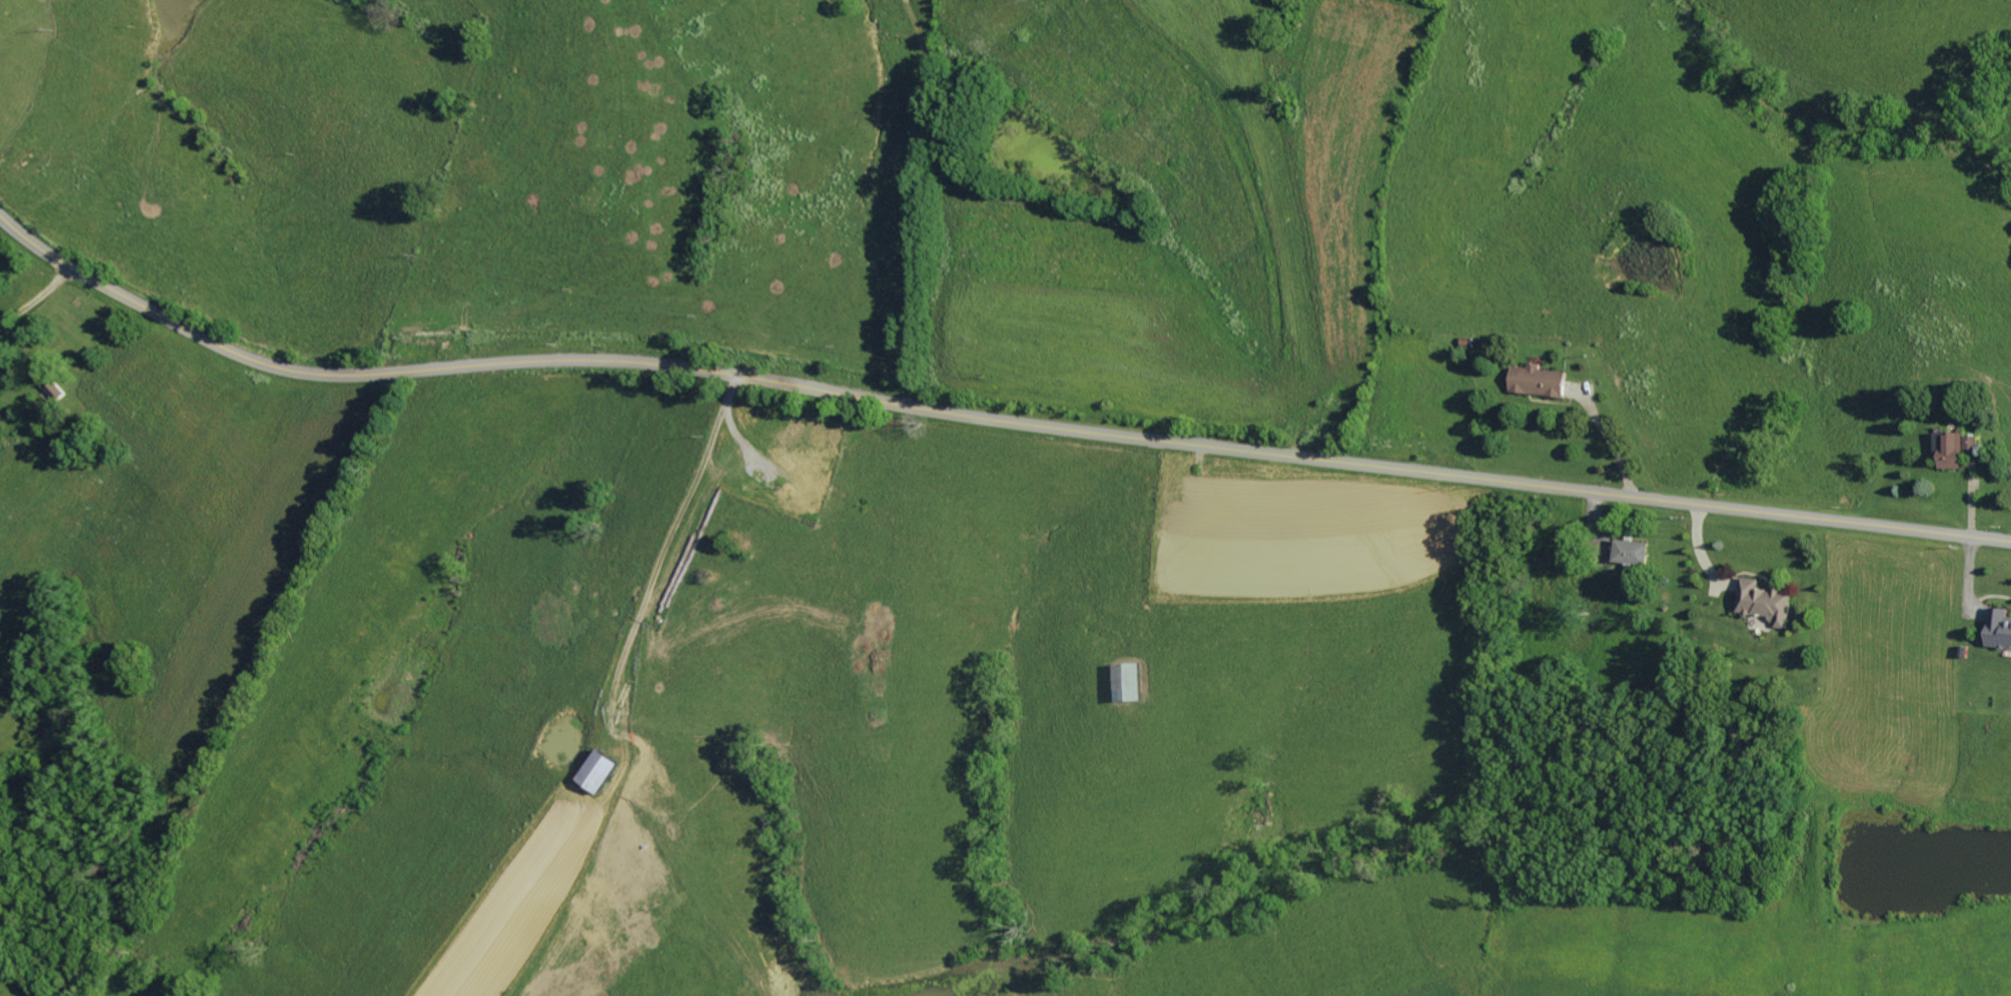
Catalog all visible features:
building: (1541, 380)
building: (58, 391)
road: (986, 414)
building: (1954, 449)
building: (1633, 551)
building: (1767, 601)
building: (1131, 682)
building: (604, 771)

